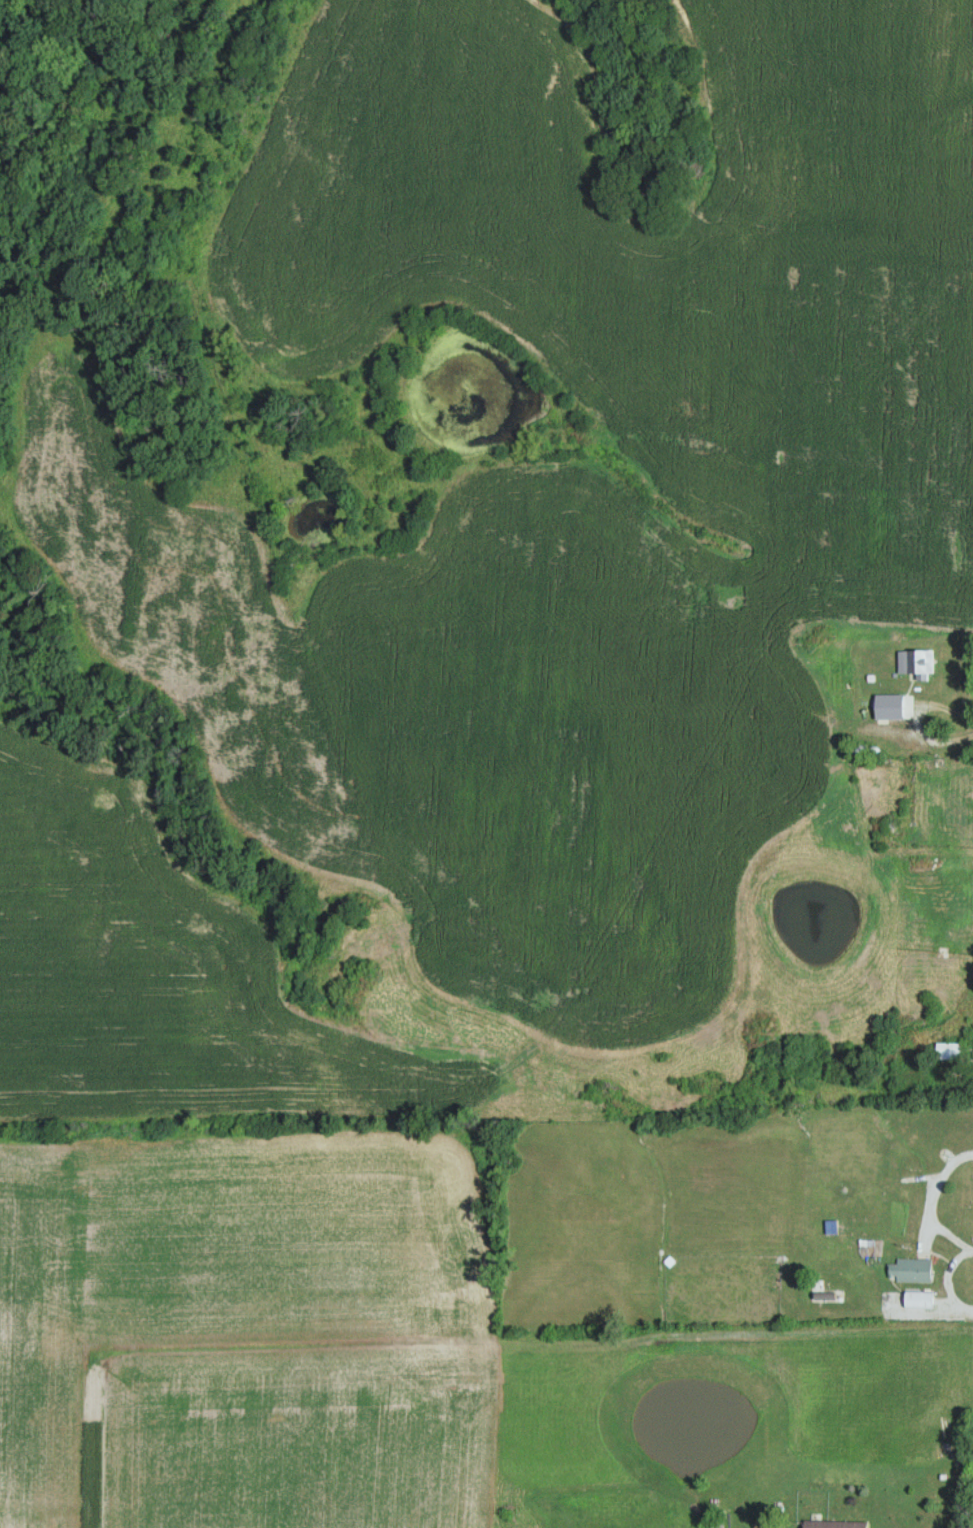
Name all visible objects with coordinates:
building: (802, 632)
building: (917, 662)
building: (880, 705)
road: (917, 742)
building: (923, 867)
building: (951, 1051)
road: (859, 1092)
road: (932, 1203)
building: (910, 1271)
building: (826, 1289)
building: (919, 1300)
building: (835, 1524)

